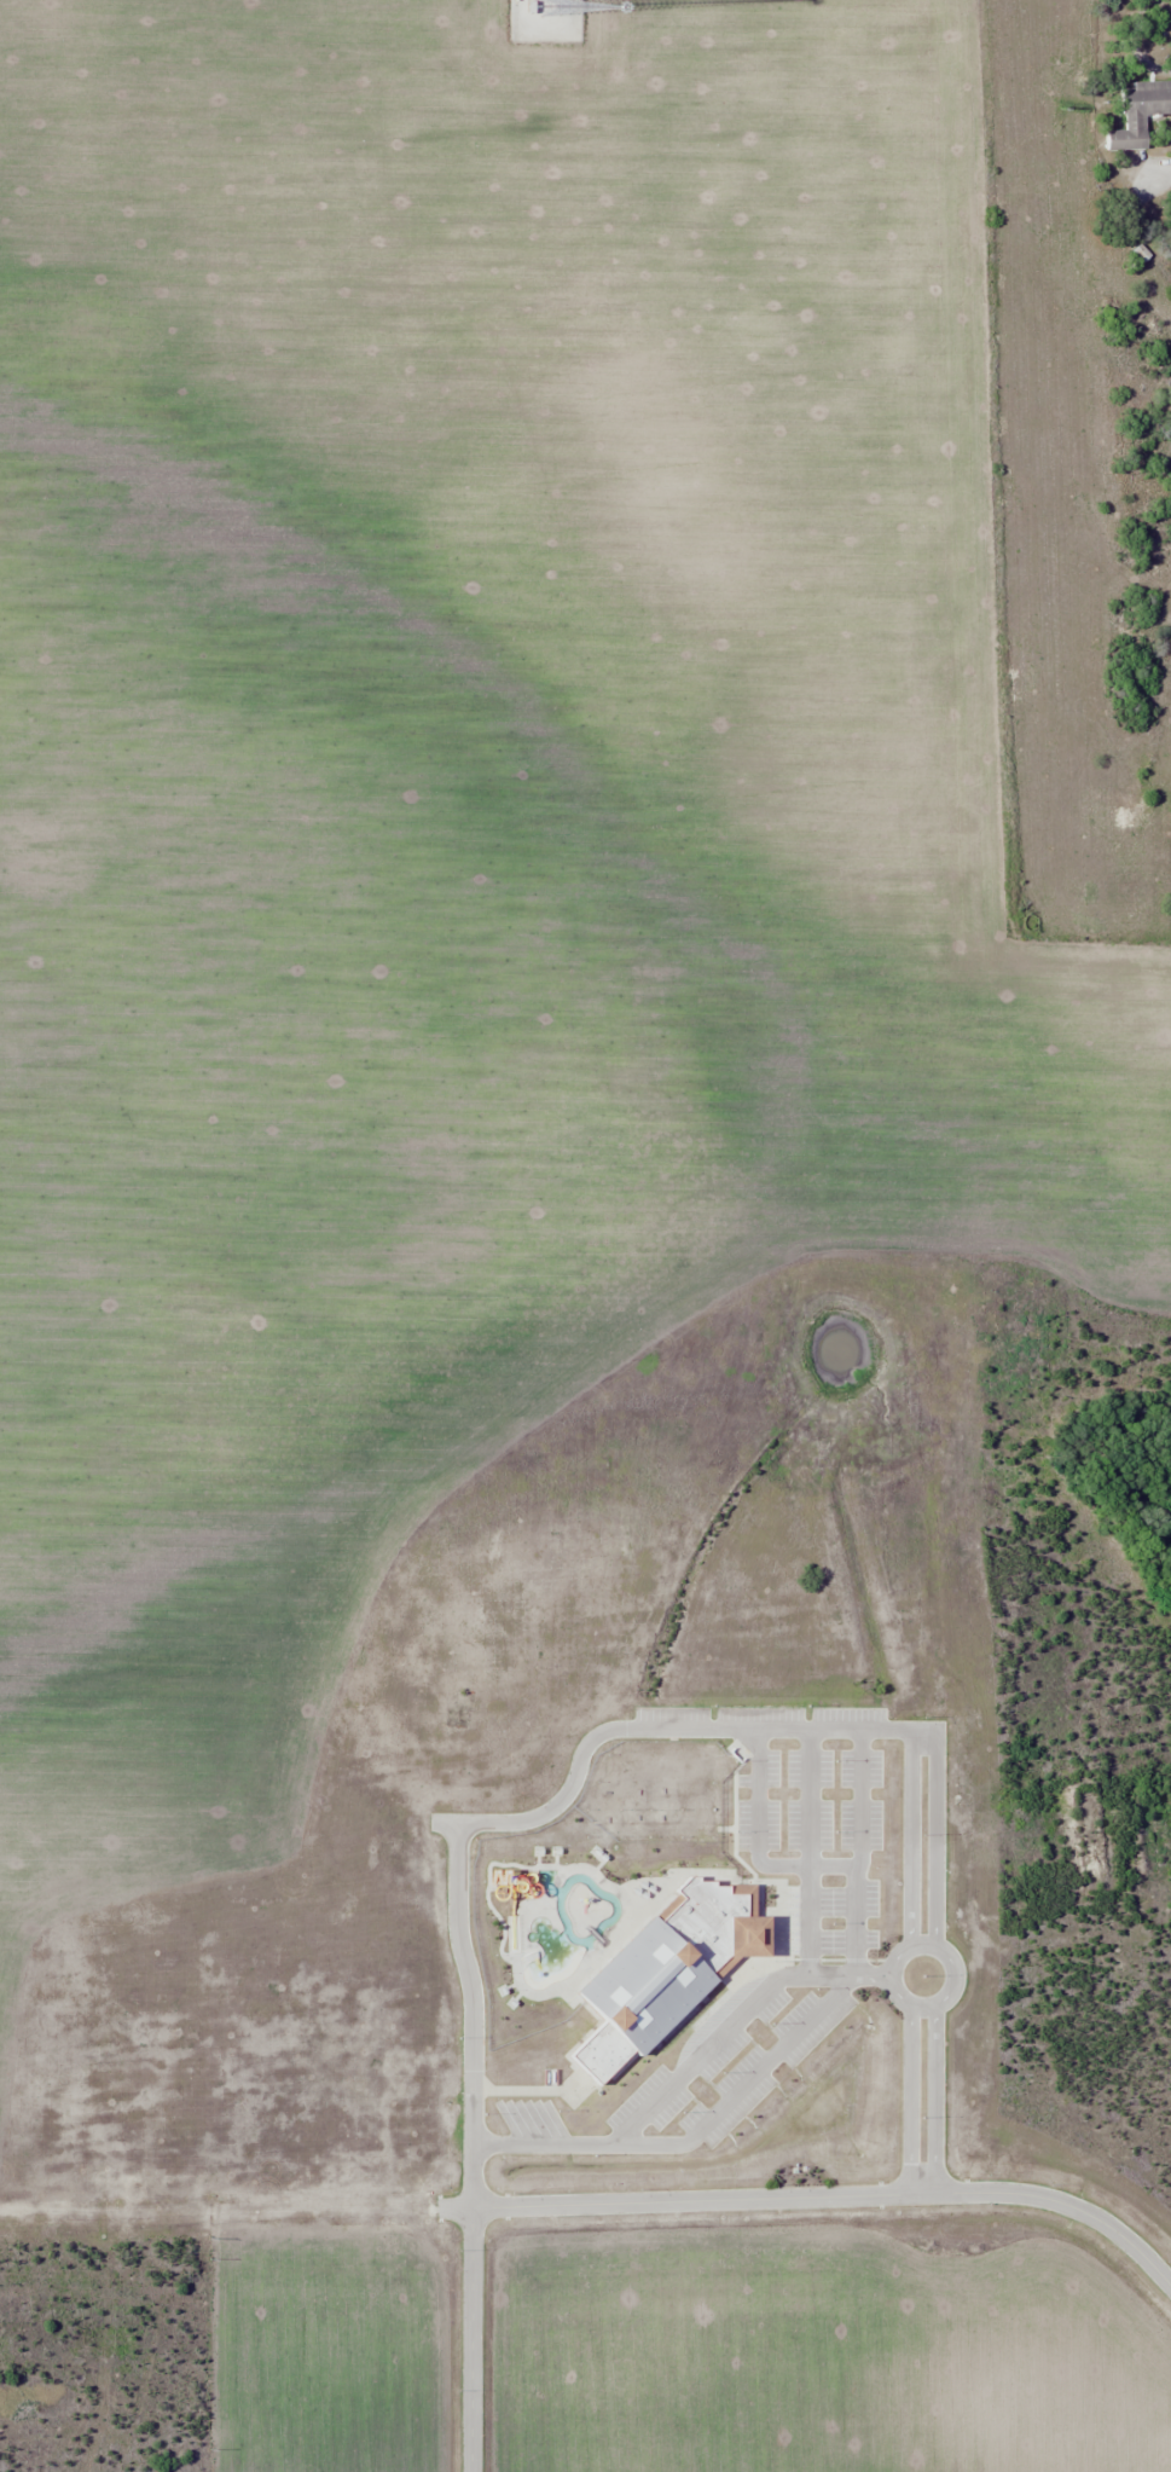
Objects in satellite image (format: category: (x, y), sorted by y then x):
building: (1138, 115)
road: (527, 1822)
road: (910, 1840)
road: (935, 1840)
road: (759, 1846)
road: (810, 1853)
road: (858, 1853)
theme park: (593, 1878)
parking lot: (839, 1920)
road: (934, 1947)
building: (673, 1970)
road: (850, 1976)
road: (706, 2051)
road: (743, 2085)
road: (911, 2100)
road: (934, 2100)
road: (541, 2144)
road: (836, 2195)
road: (471, 2339)

